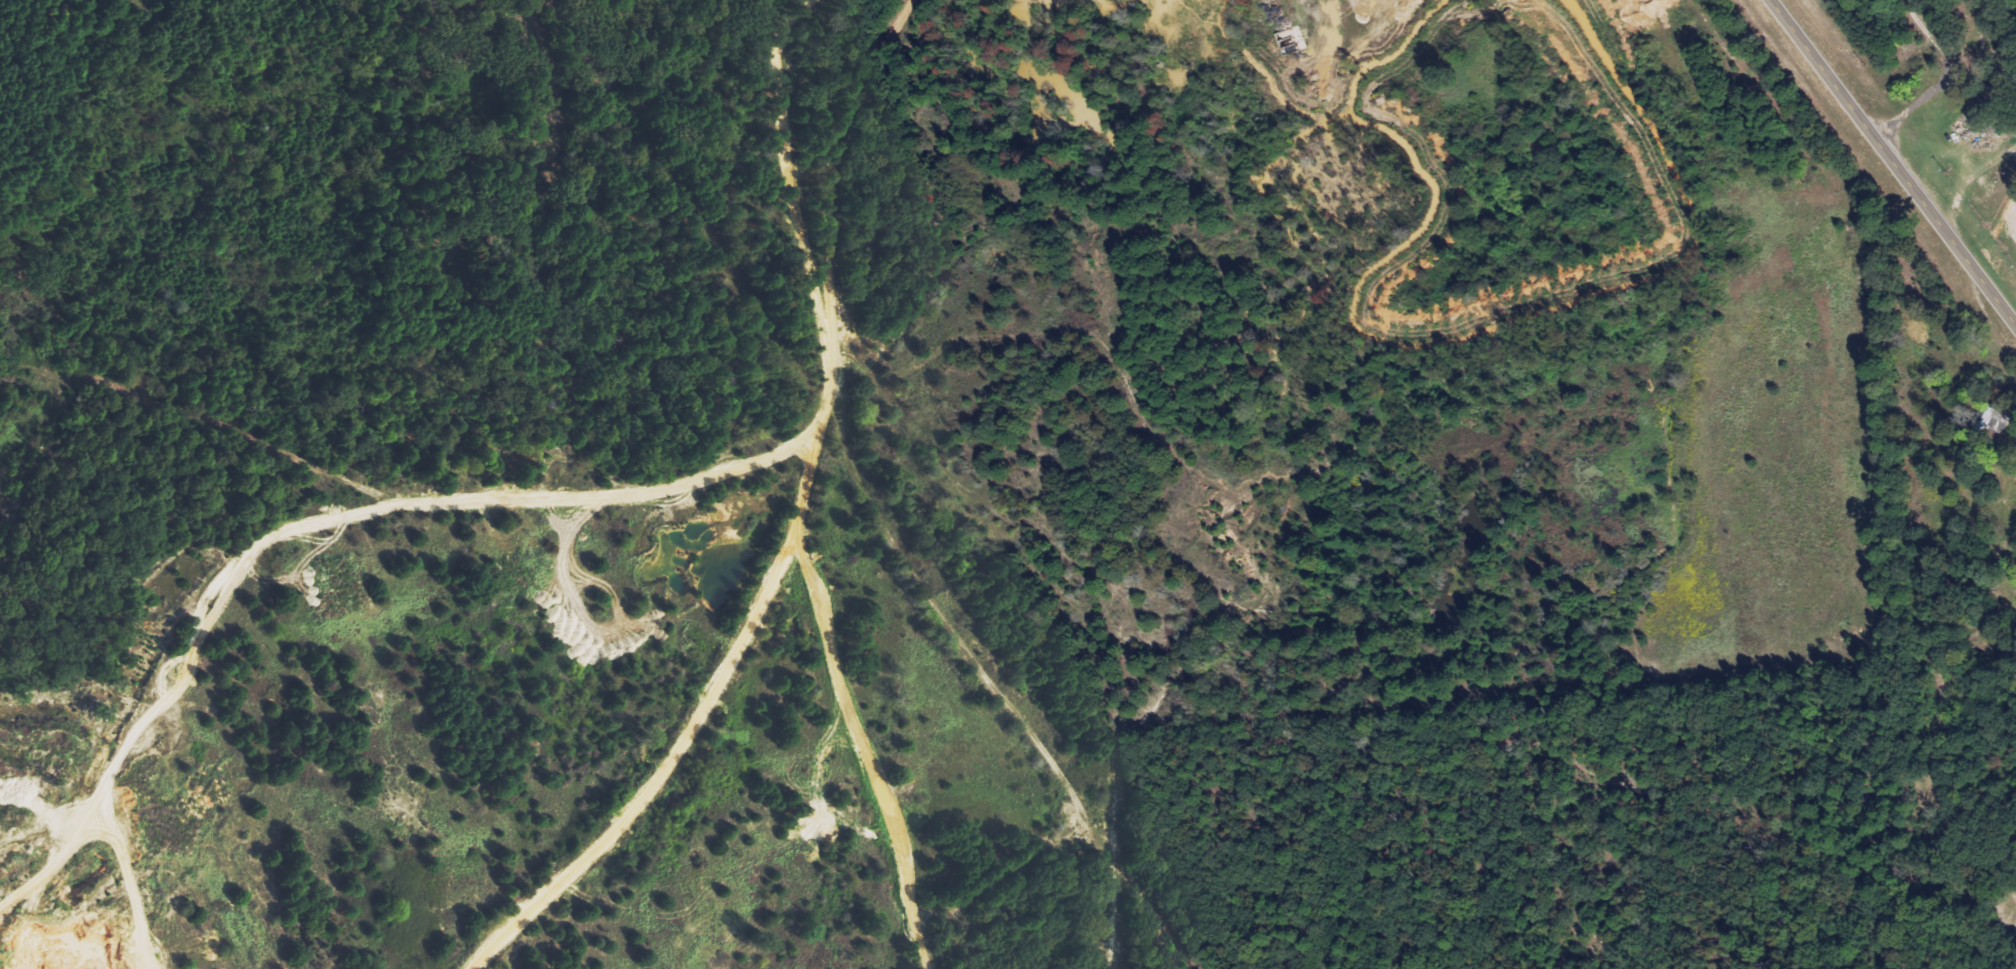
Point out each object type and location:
road: (1896, 156)

